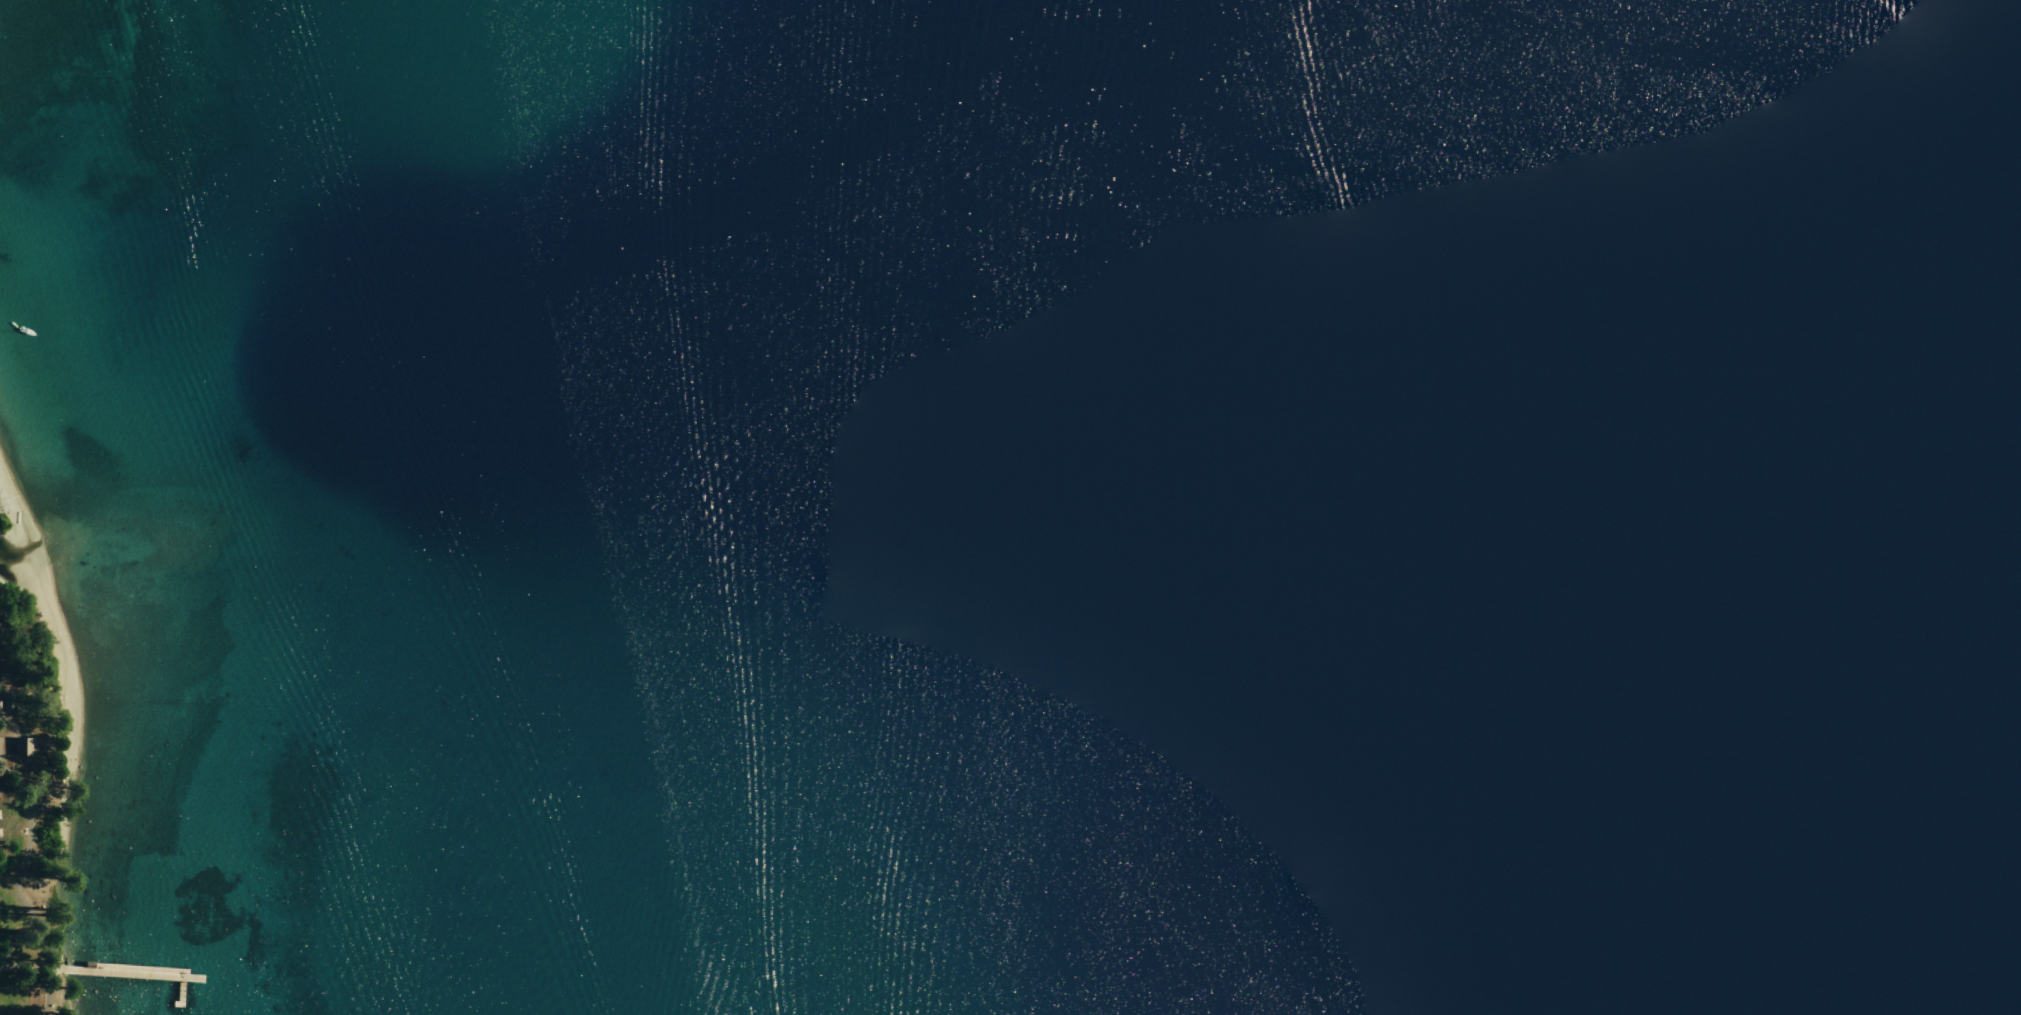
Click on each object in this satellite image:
building: (28, 698)
railway: (66, 700)
building: (22, 746)
road: (7, 780)
road: (26, 902)
road: (22, 964)
road: (54, 968)
pier: (133, 972)
pier: (178, 992)

